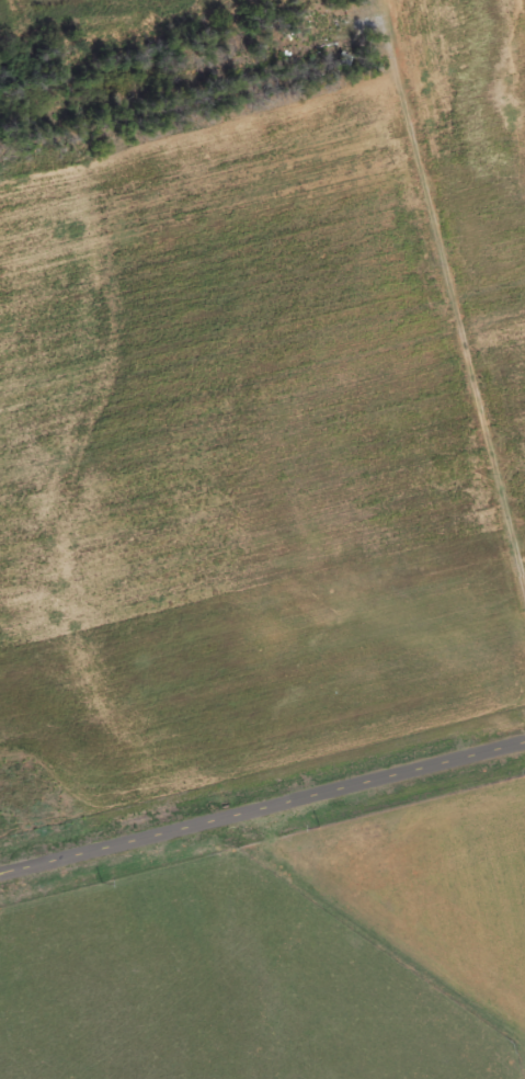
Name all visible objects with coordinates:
road: (262, 844)

